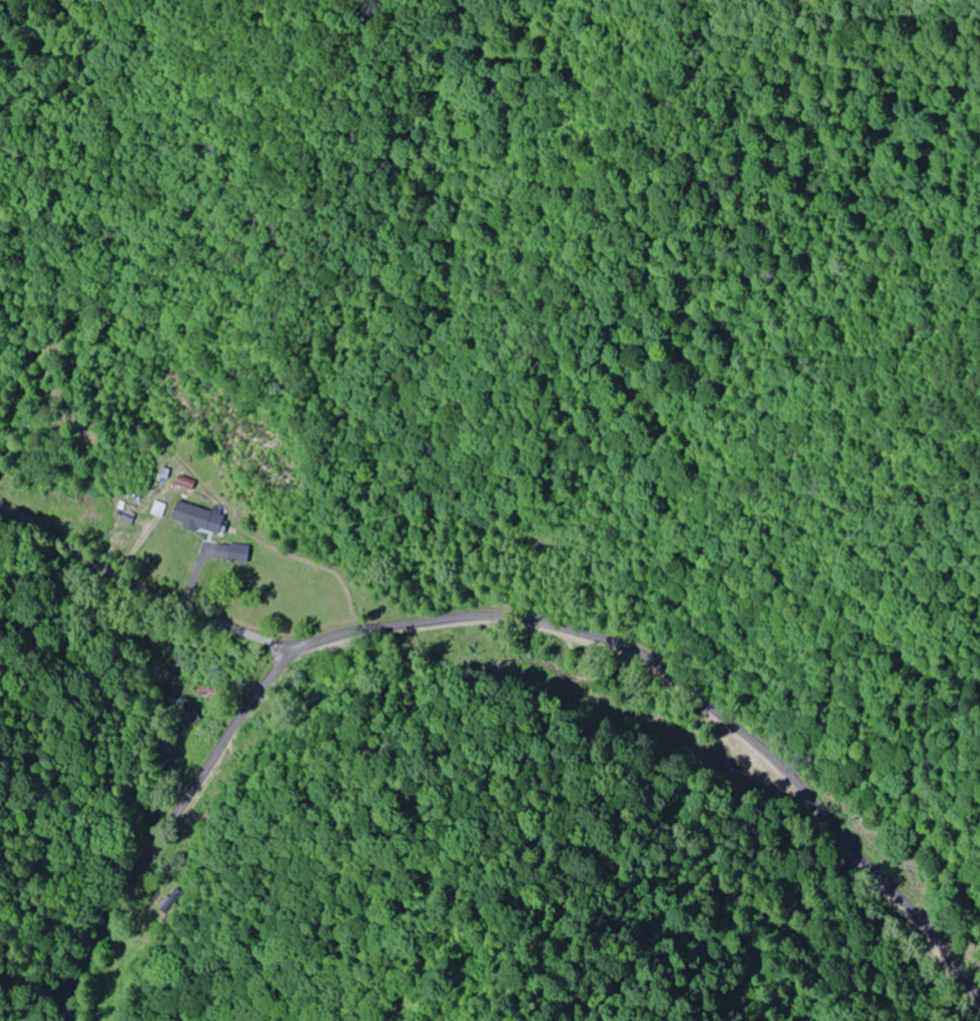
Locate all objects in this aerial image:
building: (182, 482)
building: (156, 509)
building: (195, 518)
building: (235, 553)
road: (95, 622)
road: (456, 626)
building: (184, 713)

